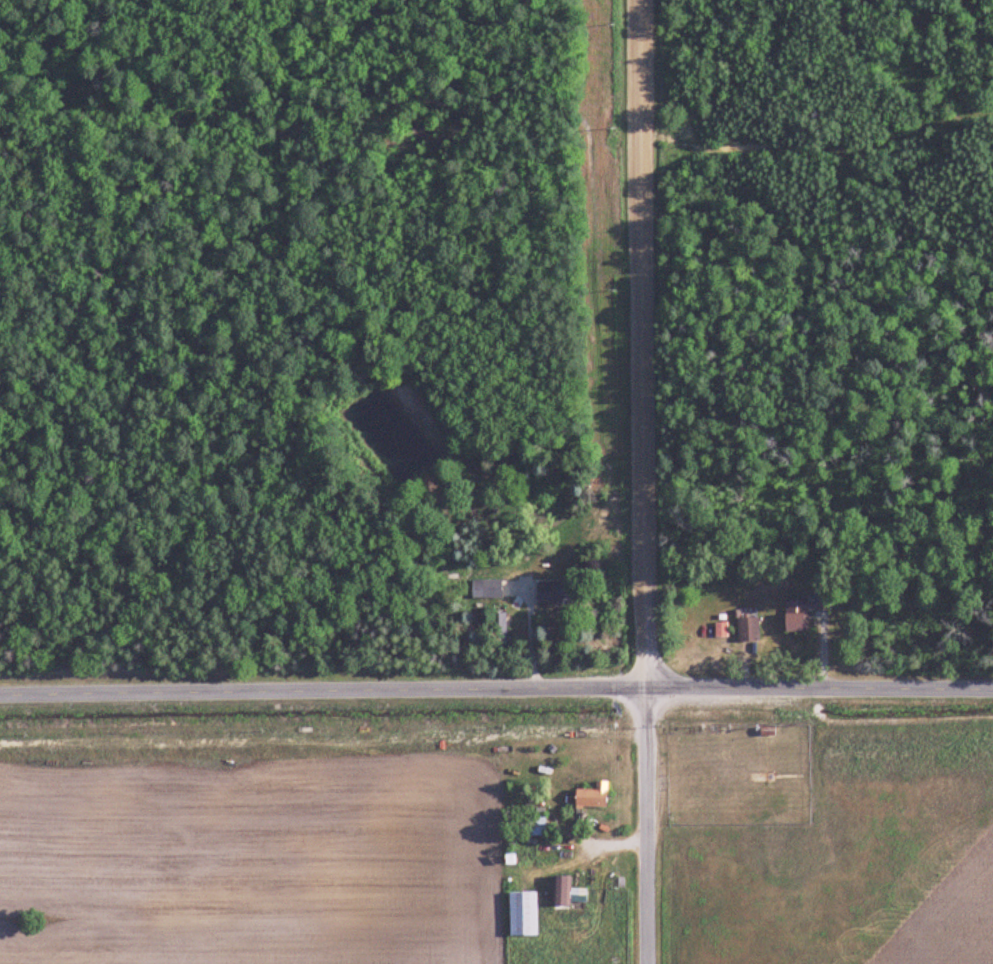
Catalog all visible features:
road: (641, 482)
building: (486, 589)
building: (556, 593)
building: (804, 613)
building: (499, 629)
building: (748, 631)
road: (496, 687)
building: (593, 796)
building: (536, 826)
building: (567, 892)
building: (523, 914)

